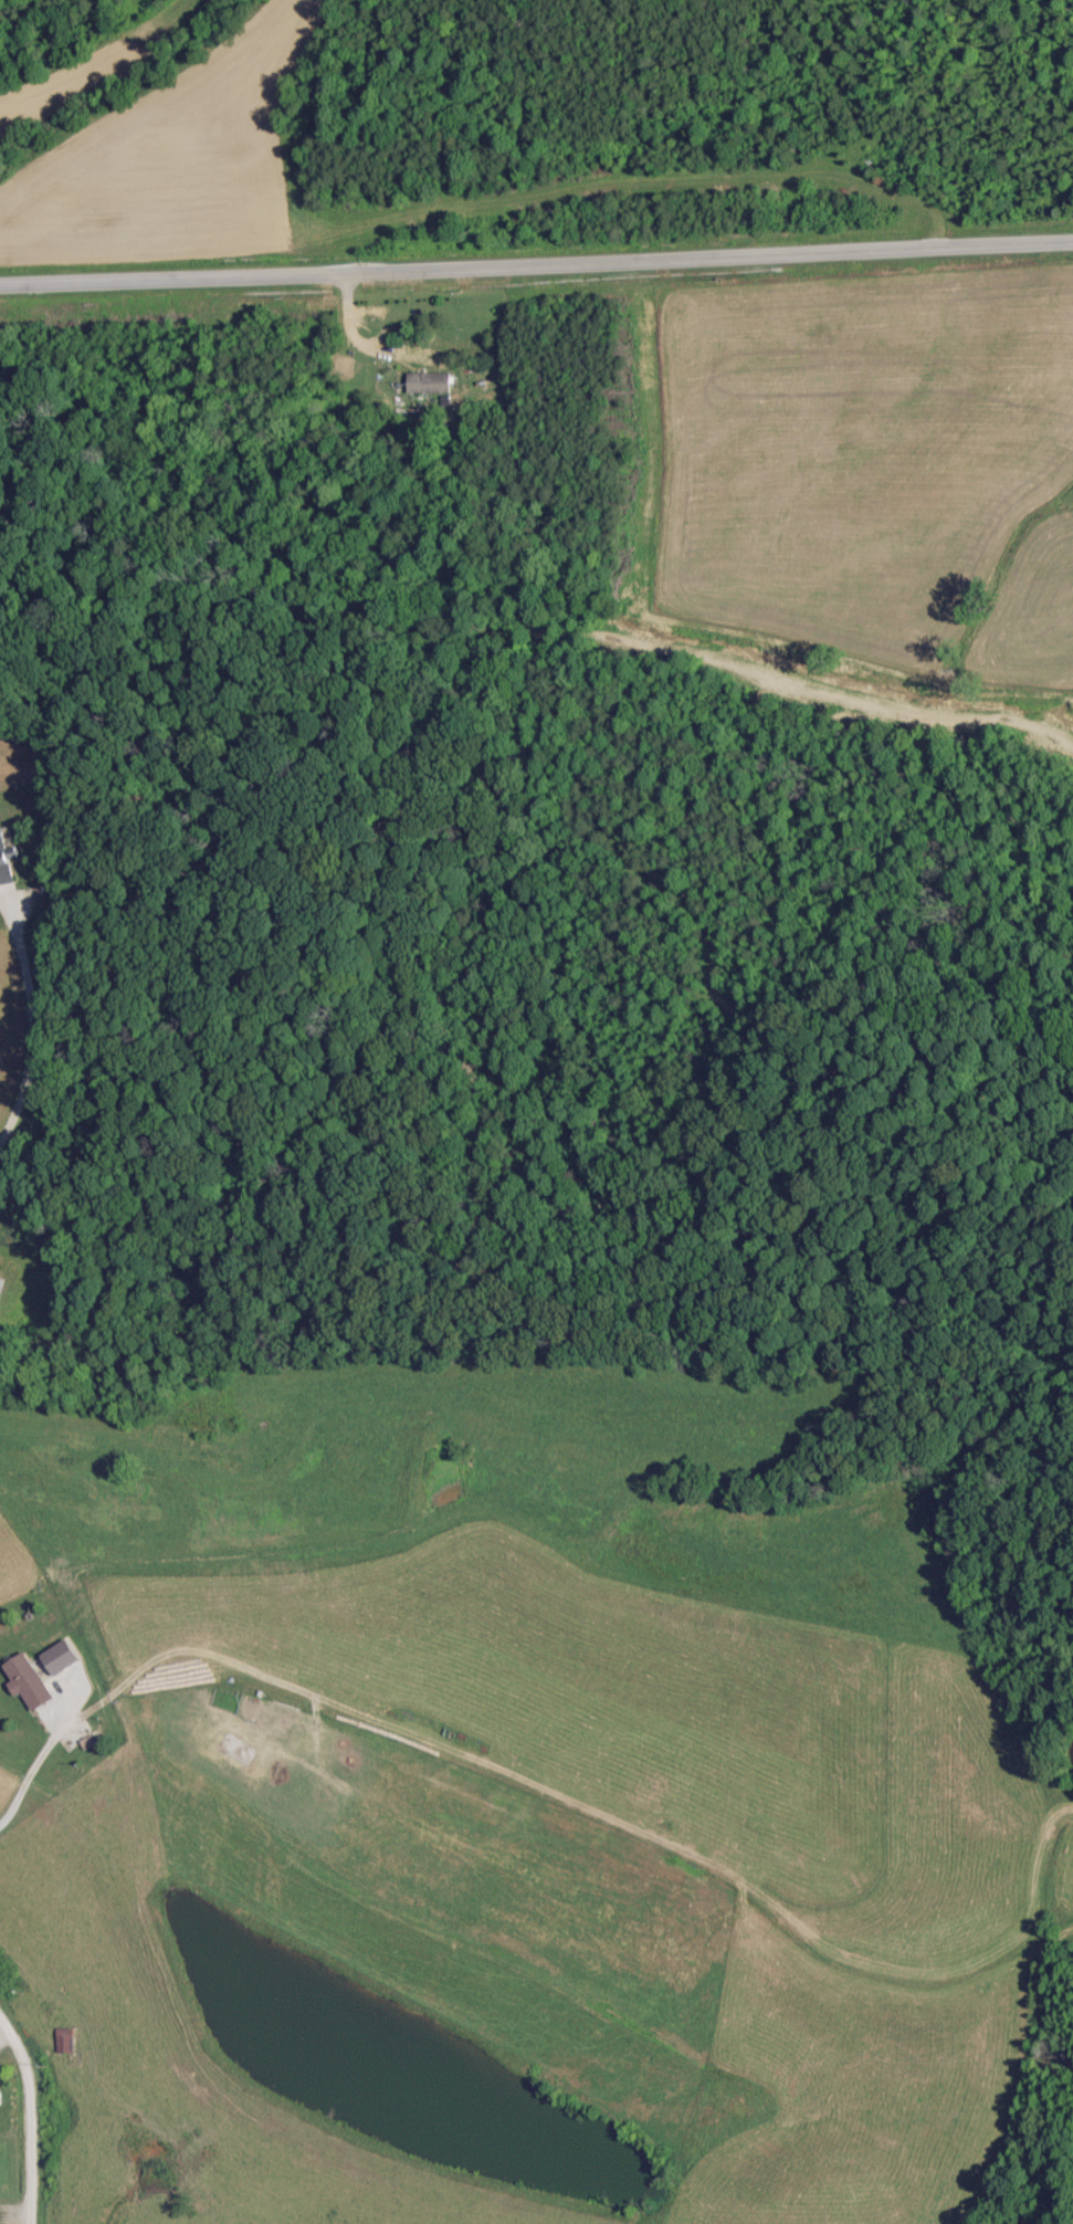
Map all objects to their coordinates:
road: (536, 262)
building: (427, 382)
building: (3, 866)
road: (29, 1022)
building: (25, 1680)
road: (38, 1755)
building: (62, 2038)
road: (24, 2121)

